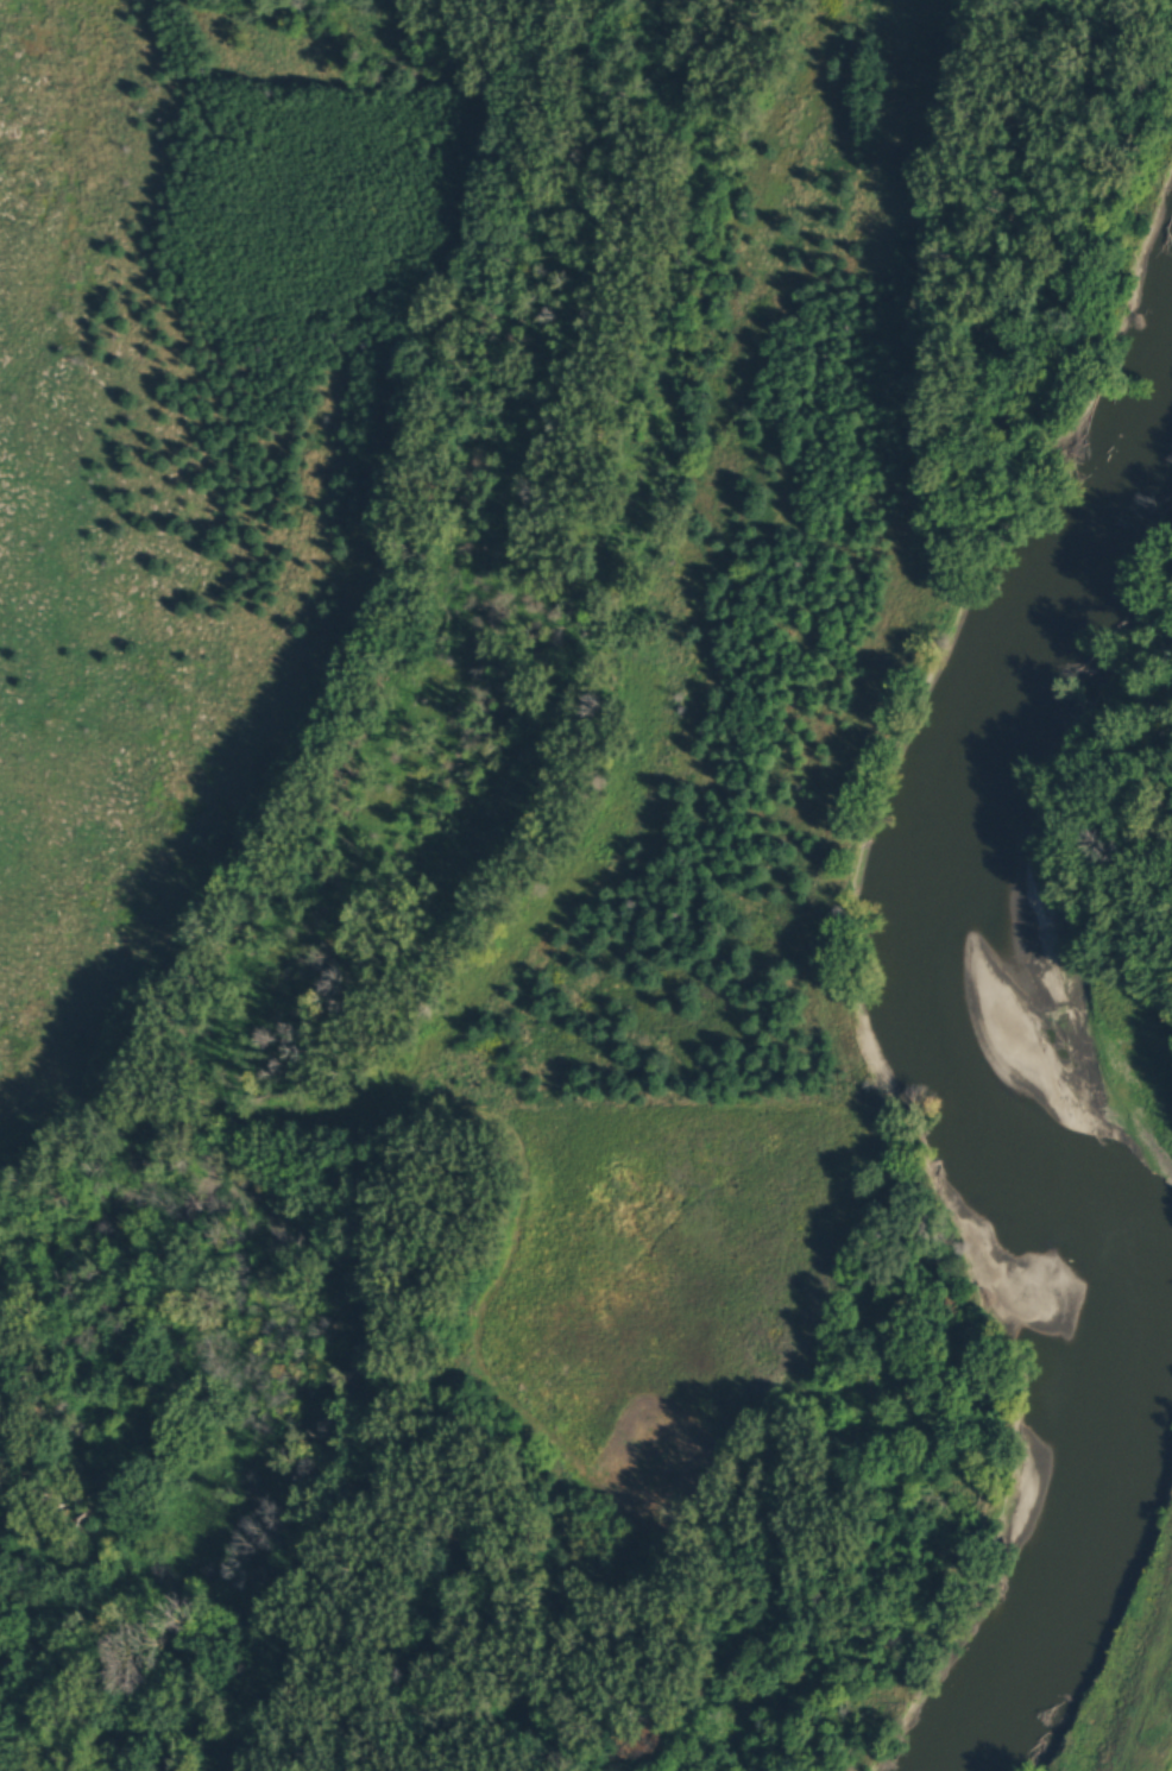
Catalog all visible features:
river: (1001, 1084)

